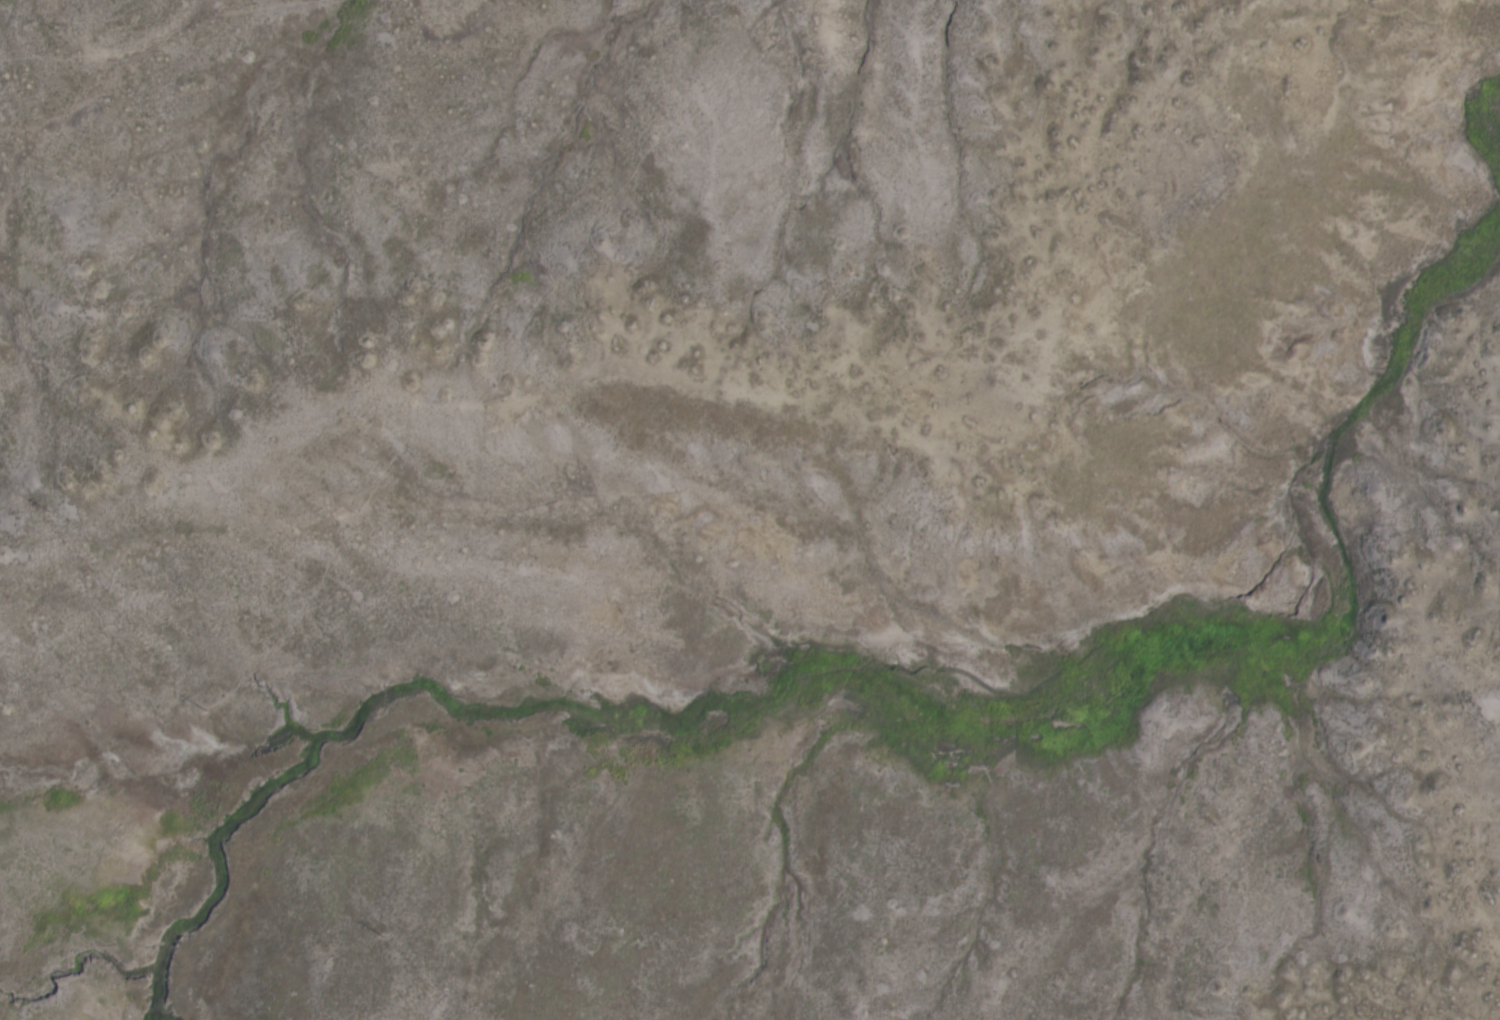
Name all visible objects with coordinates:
power tower: (55, 515)
power tower: (211, 712)
power tower: (390, 938)

